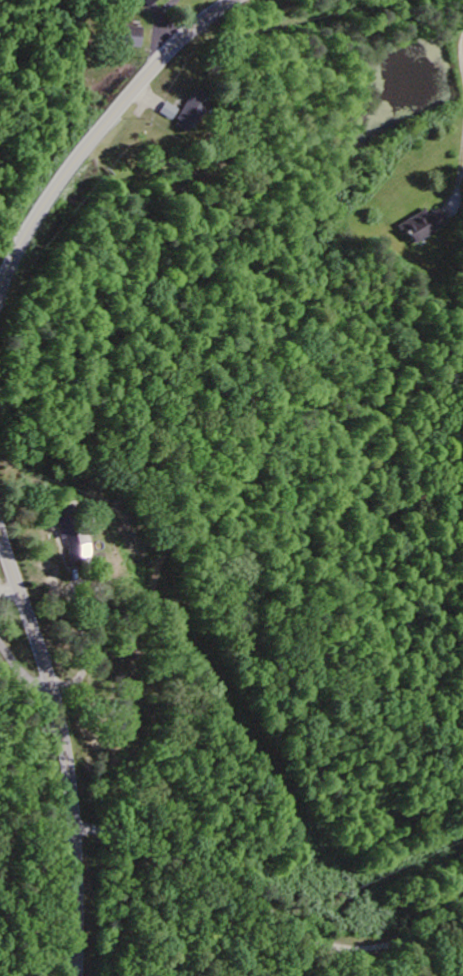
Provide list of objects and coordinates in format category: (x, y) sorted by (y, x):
building: (150, 3)
building: (167, 112)
building: (190, 112)
road: (101, 127)
building: (423, 226)
building: (73, 542)
road: (46, 674)
road: (25, 676)
road: (76, 901)
road: (265, 909)
road: (440, 912)

